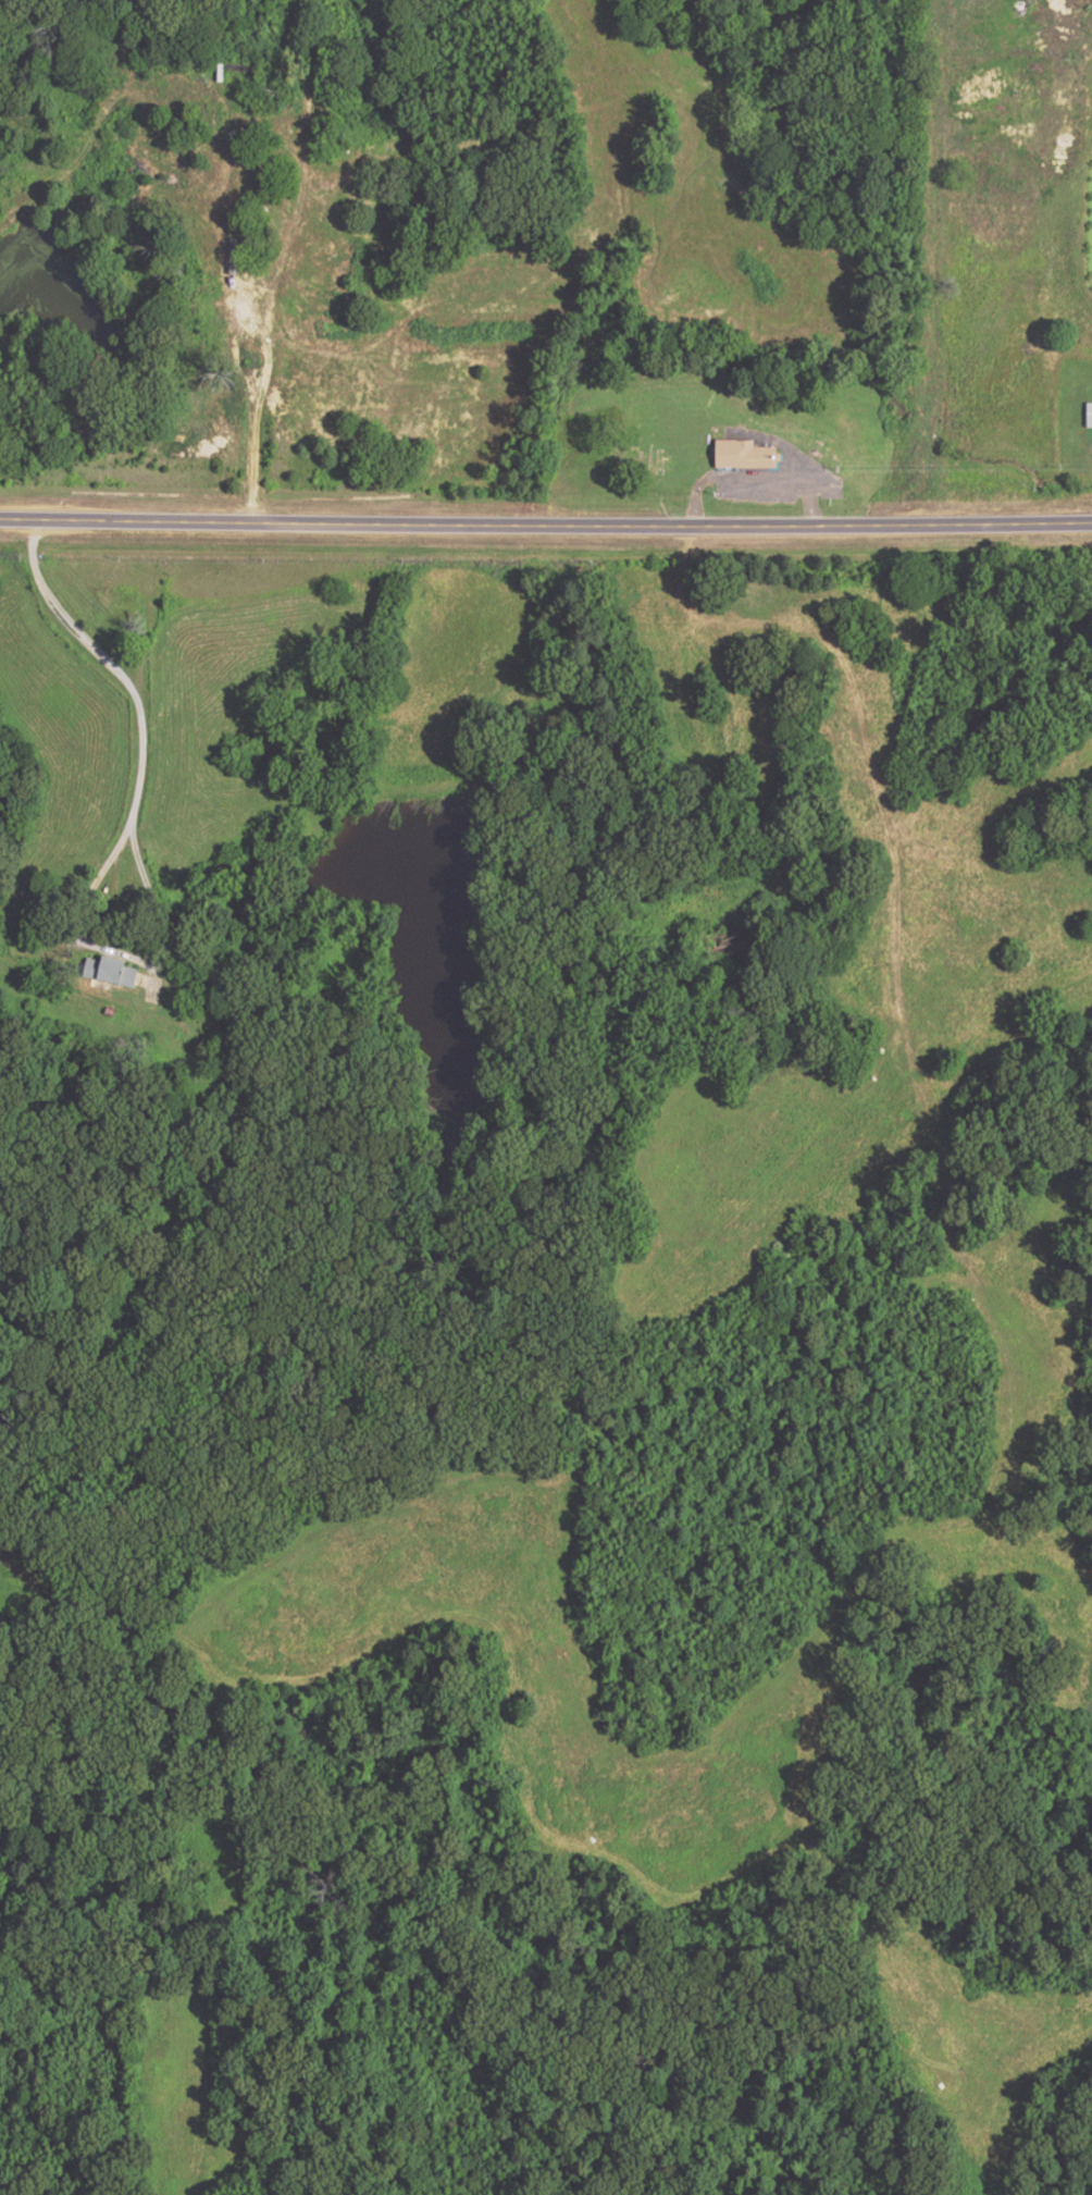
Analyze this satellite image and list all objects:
road: (281, 260)
building: (1088, 415)
building: (741, 455)
parking lot: (814, 468)
road: (749, 478)
parking lot: (754, 493)
road: (545, 526)
road: (124, 831)
building: (107, 971)

